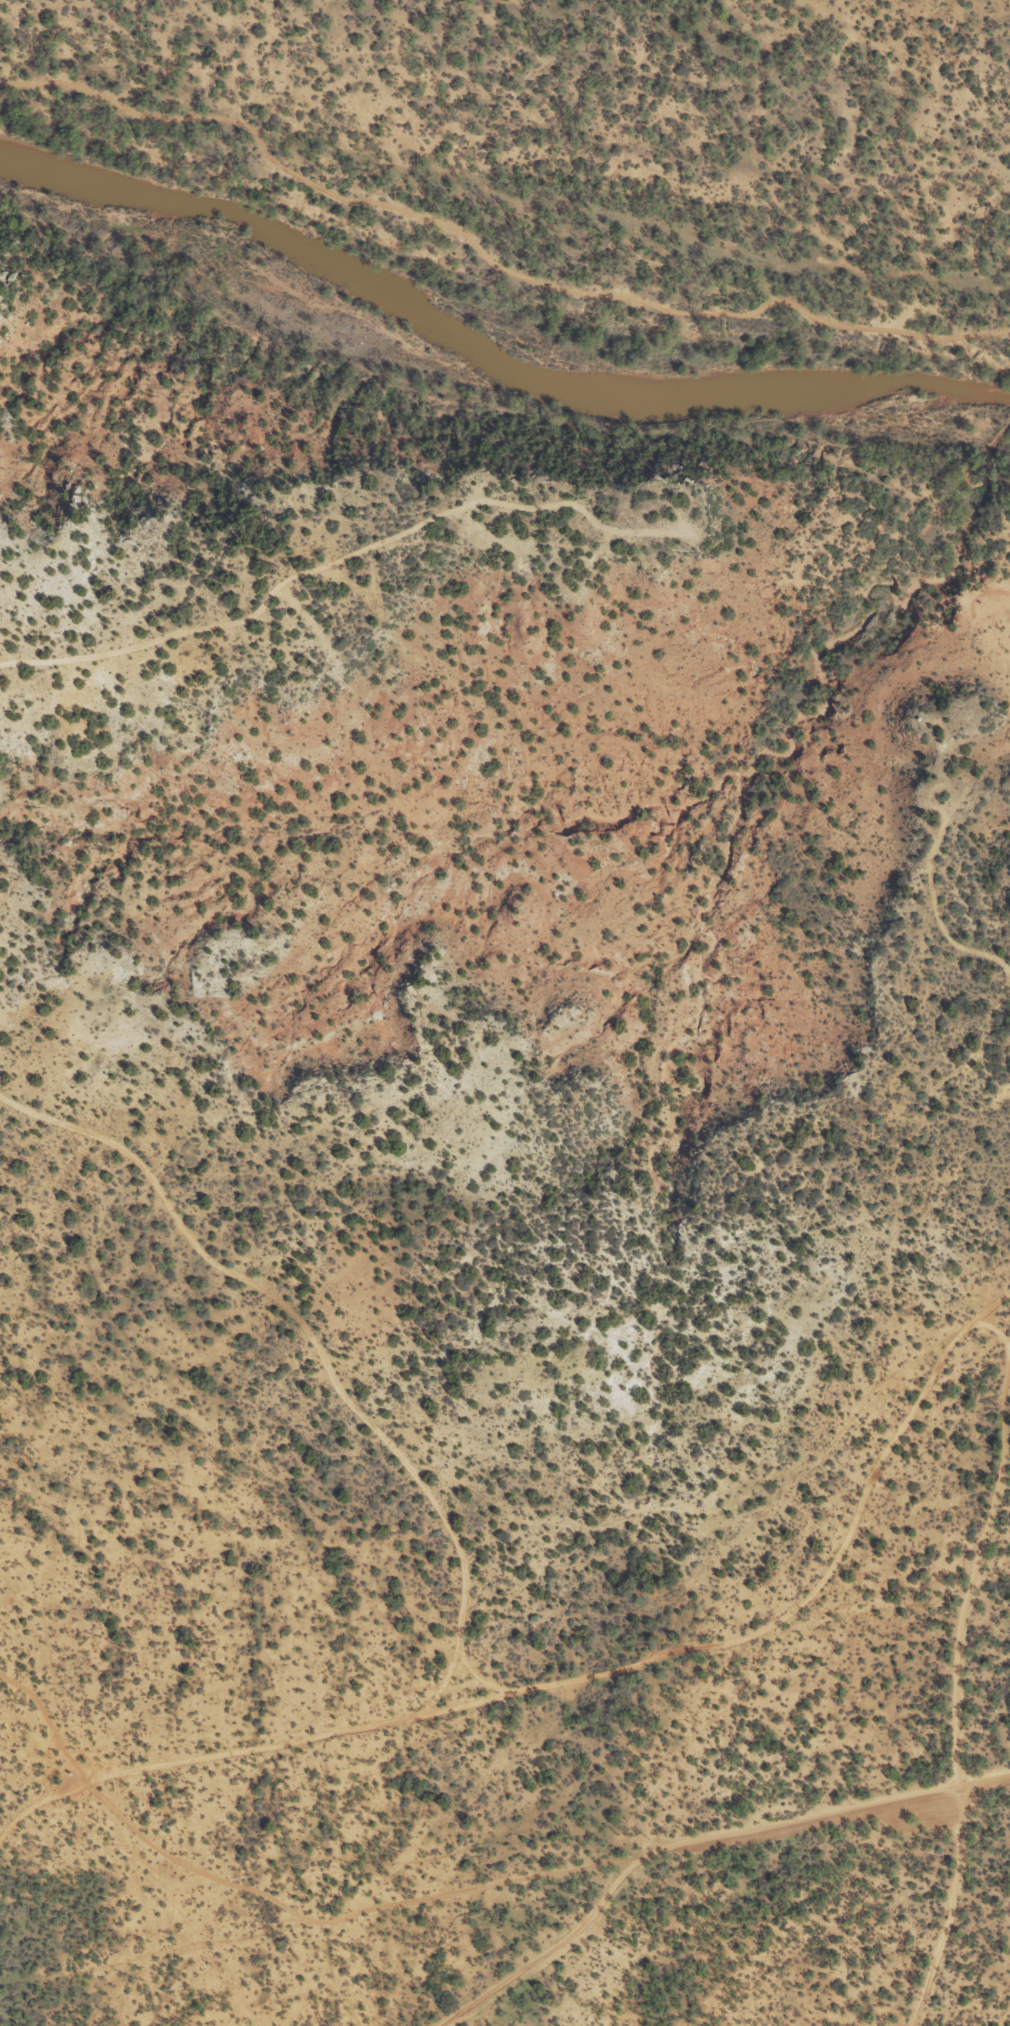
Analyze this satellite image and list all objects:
road: (933, 8)
river: (487, 361)
road: (509, 1727)
road: (1005, 1978)

